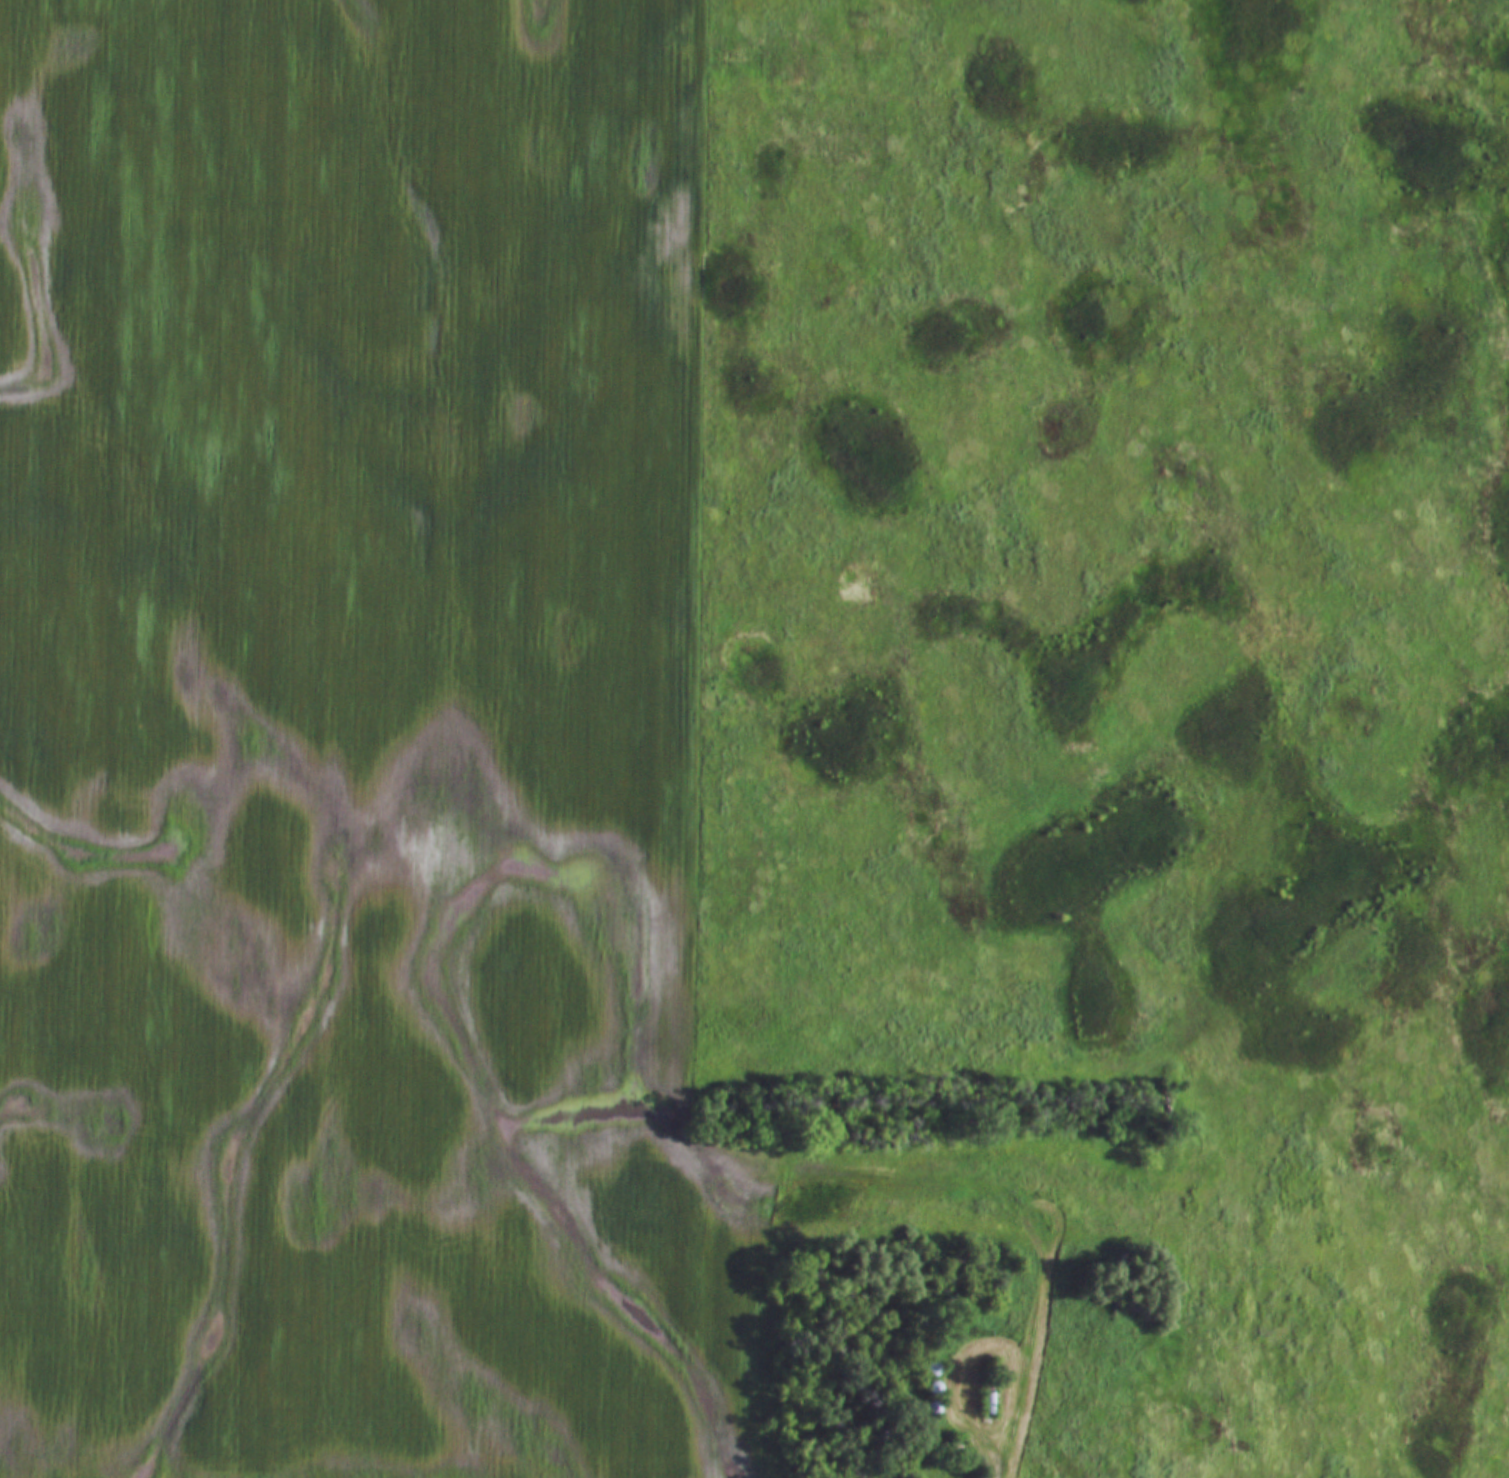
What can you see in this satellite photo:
road: (1003, 1456)

